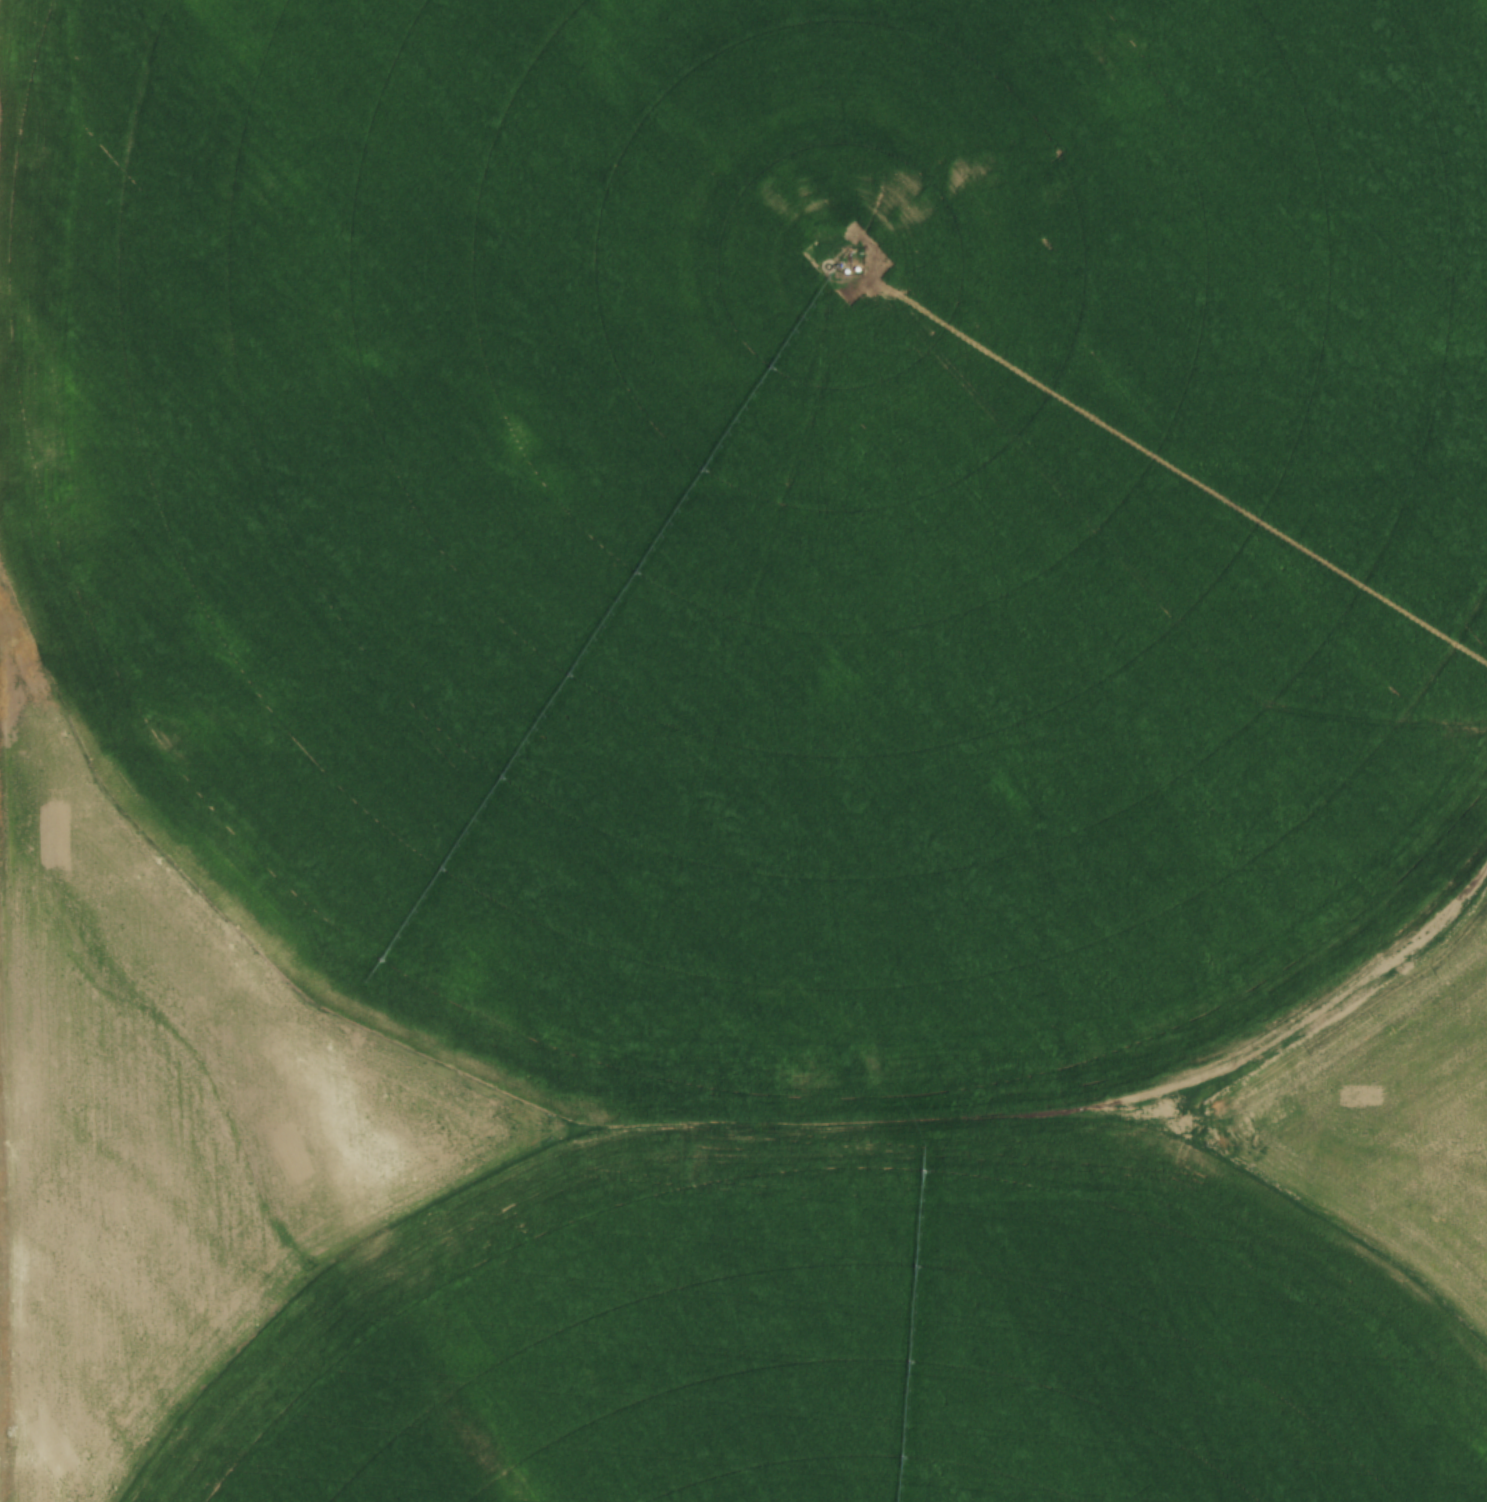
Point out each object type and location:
crop: (743, 750)

